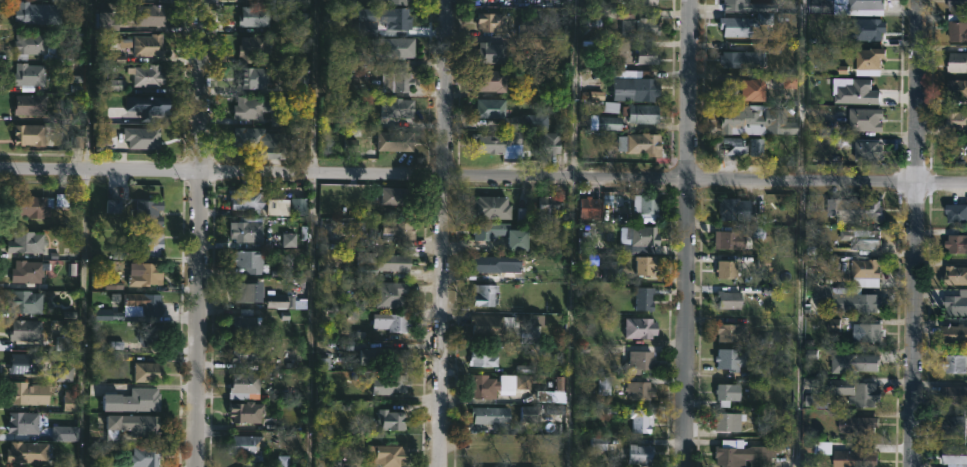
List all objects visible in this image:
building: (399, 1)
building: (640, 2)
building: (956, 5)
building: (746, 6)
building: (846, 7)
building: (32, 12)
building: (150, 14)
building: (256, 15)
building: (399, 18)
building: (110, 21)
building: (487, 22)
building: (634, 24)
building: (733, 25)
building: (956, 27)
building: (866, 28)
building: (150, 44)
building: (257, 45)
building: (40, 47)
building: (396, 47)
building: (488, 52)
building: (645, 55)
building: (733, 59)
building: (867, 60)
building: (956, 62)
building: (30, 74)
building: (147, 75)
building: (249, 78)
building: (488, 80)
building: (401, 81)
building: (632, 83)
building: (955, 91)
building: (29, 104)
building: (150, 104)
building: (250, 107)
building: (399, 108)
building: (487, 108)
building: (638, 113)
building: (753, 119)
building: (863, 119)
building: (602, 122)
building: (957, 124)
building: (30, 134)
building: (148, 136)
building: (257, 138)
building: (397, 139)
building: (496, 143)
building: (639, 143)
building: (553, 144)
building: (729, 144)
building: (757, 148)
building: (857, 148)
road: (483, 177)
building: (399, 196)
building: (250, 200)
building: (299, 203)
building: (644, 203)
building: (32, 206)
building: (489, 207)
building: (545, 207)
building: (588, 207)
building: (733, 209)
building: (850, 209)
building: (955, 212)
building: (150, 213)
building: (248, 231)
building: (401, 232)
road: (87, 233)
road: (200, 233)
road: (314, 233)
road: (443, 233)
road: (570, 233)
road: (688, 233)
road: (801, 233)
road: (914, 233)
building: (496, 234)
building: (640, 235)
building: (727, 239)
building: (862, 239)
building: (27, 242)
building: (153, 244)
building: (955, 244)
building: (249, 261)
building: (494, 263)
building: (642, 265)
building: (385, 266)
building: (863, 268)
building: (725, 269)
building: (30, 271)
building: (610, 271)
building: (151, 274)
building: (954, 275)
building: (250, 292)
building: (391, 294)
building: (480, 294)
building: (640, 298)
building: (726, 300)
building: (845, 300)
building: (27, 301)
building: (281, 301)
building: (147, 303)
building: (956, 303)
building: (393, 322)
building: (247, 325)
building: (486, 326)
building: (637, 327)
building: (27, 330)
building: (729, 332)
building: (865, 332)
building: (953, 333)
building: (149, 334)
building: (64, 343)
building: (251, 353)
building: (369, 354)
building: (397, 356)
building: (480, 357)
building: (728, 359)
building: (635, 362)
building: (863, 362)
building: (26, 363)
building: (952, 363)
building: (149, 372)
building: (245, 383)
building: (515, 383)
building: (392, 385)
building: (487, 386)
building: (839, 387)
building: (636, 390)
building: (28, 393)
building: (724, 393)
building: (864, 394)
building: (954, 394)
building: (71, 399)
building: (133, 400)
building: (247, 412)
building: (489, 415)
building: (641, 418)
building: (762, 419)
building: (393, 420)
building: (724, 421)
building: (25, 422)
building: (854, 424)
building: (952, 424)
building: (131, 425)
building: (66, 433)
building: (246, 447)
building: (816, 448)
building: (29, 452)
building: (638, 454)
building: (743, 454)
building: (388, 455)
building: (145, 456)
building: (486, 456)
building: (954, 456)
building: (853, 459)

